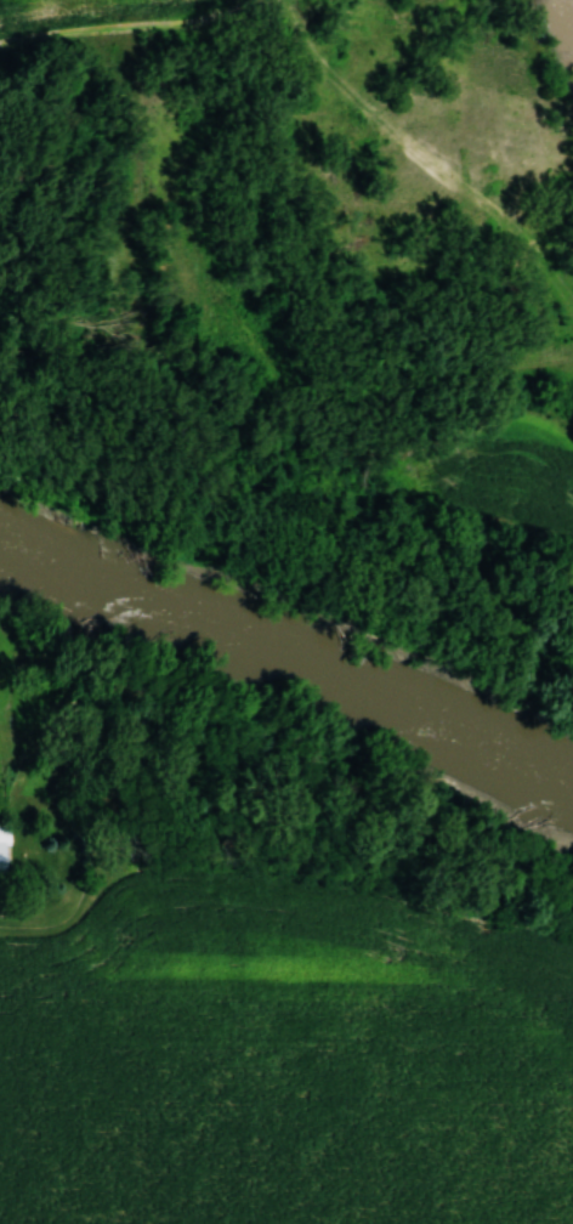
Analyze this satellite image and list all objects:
river: (290, 648)
building: (2, 833)

